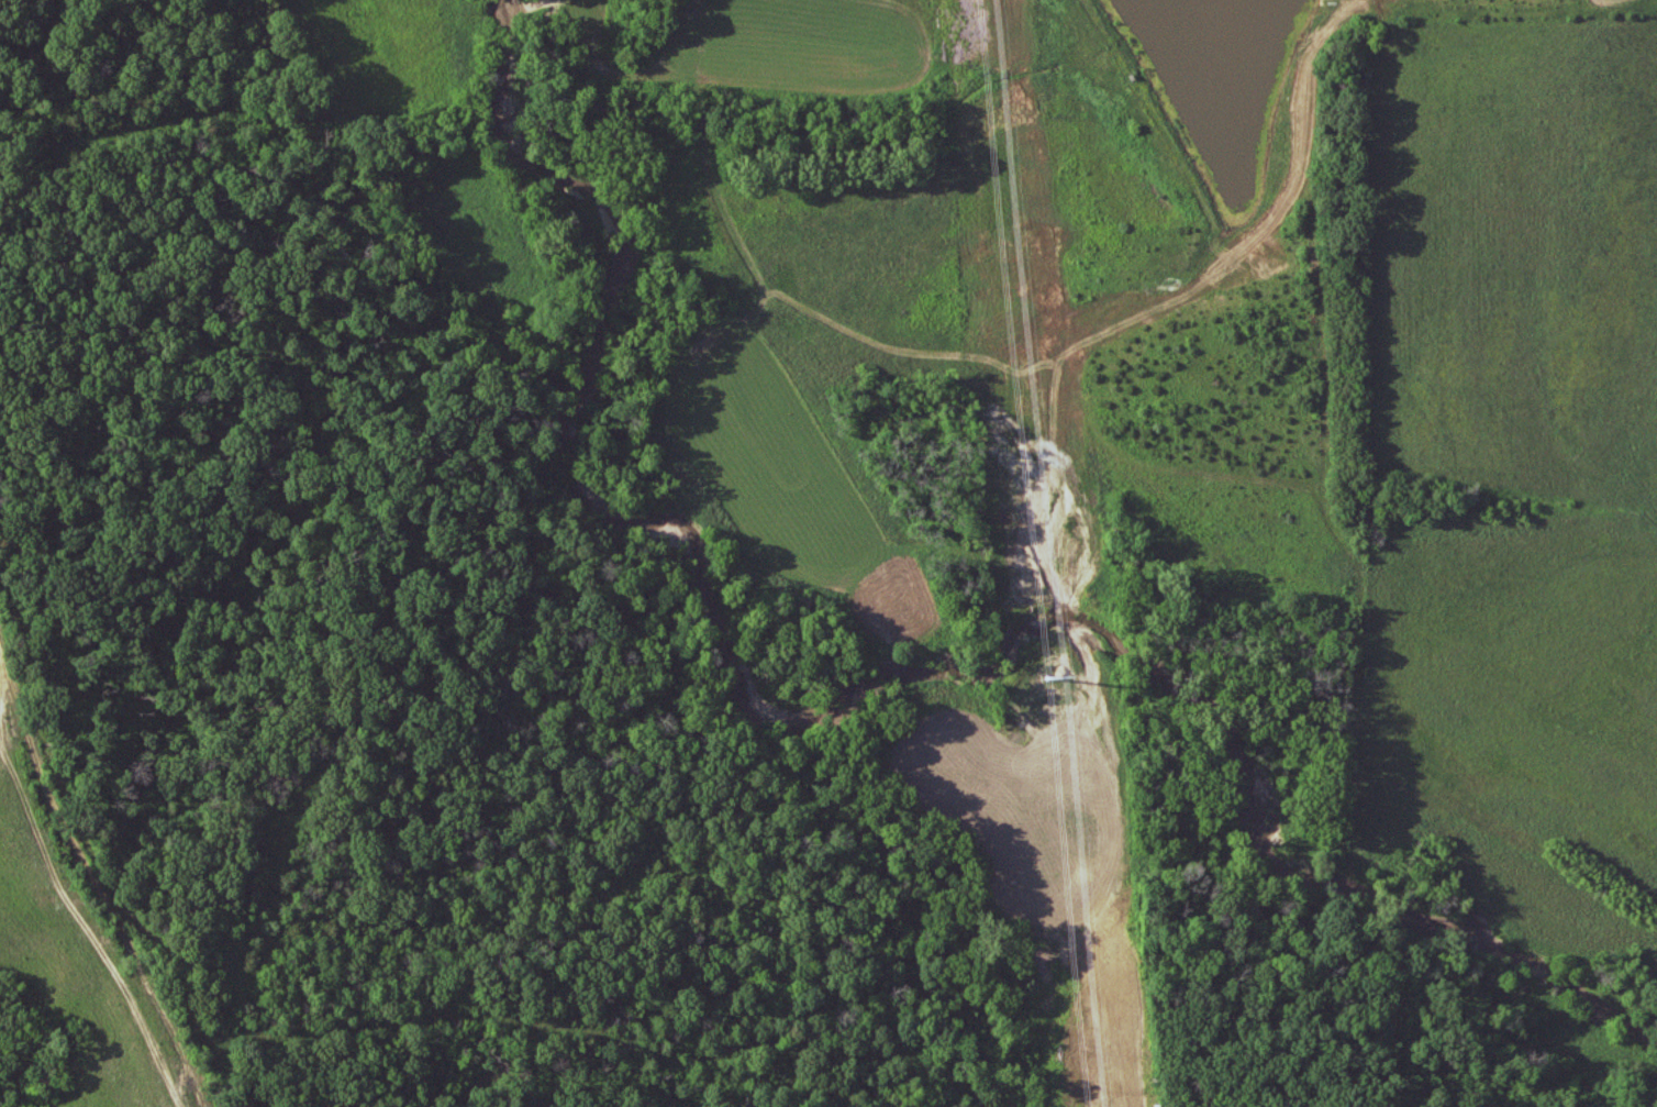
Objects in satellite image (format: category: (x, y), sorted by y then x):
power tower: (1045, 677)

